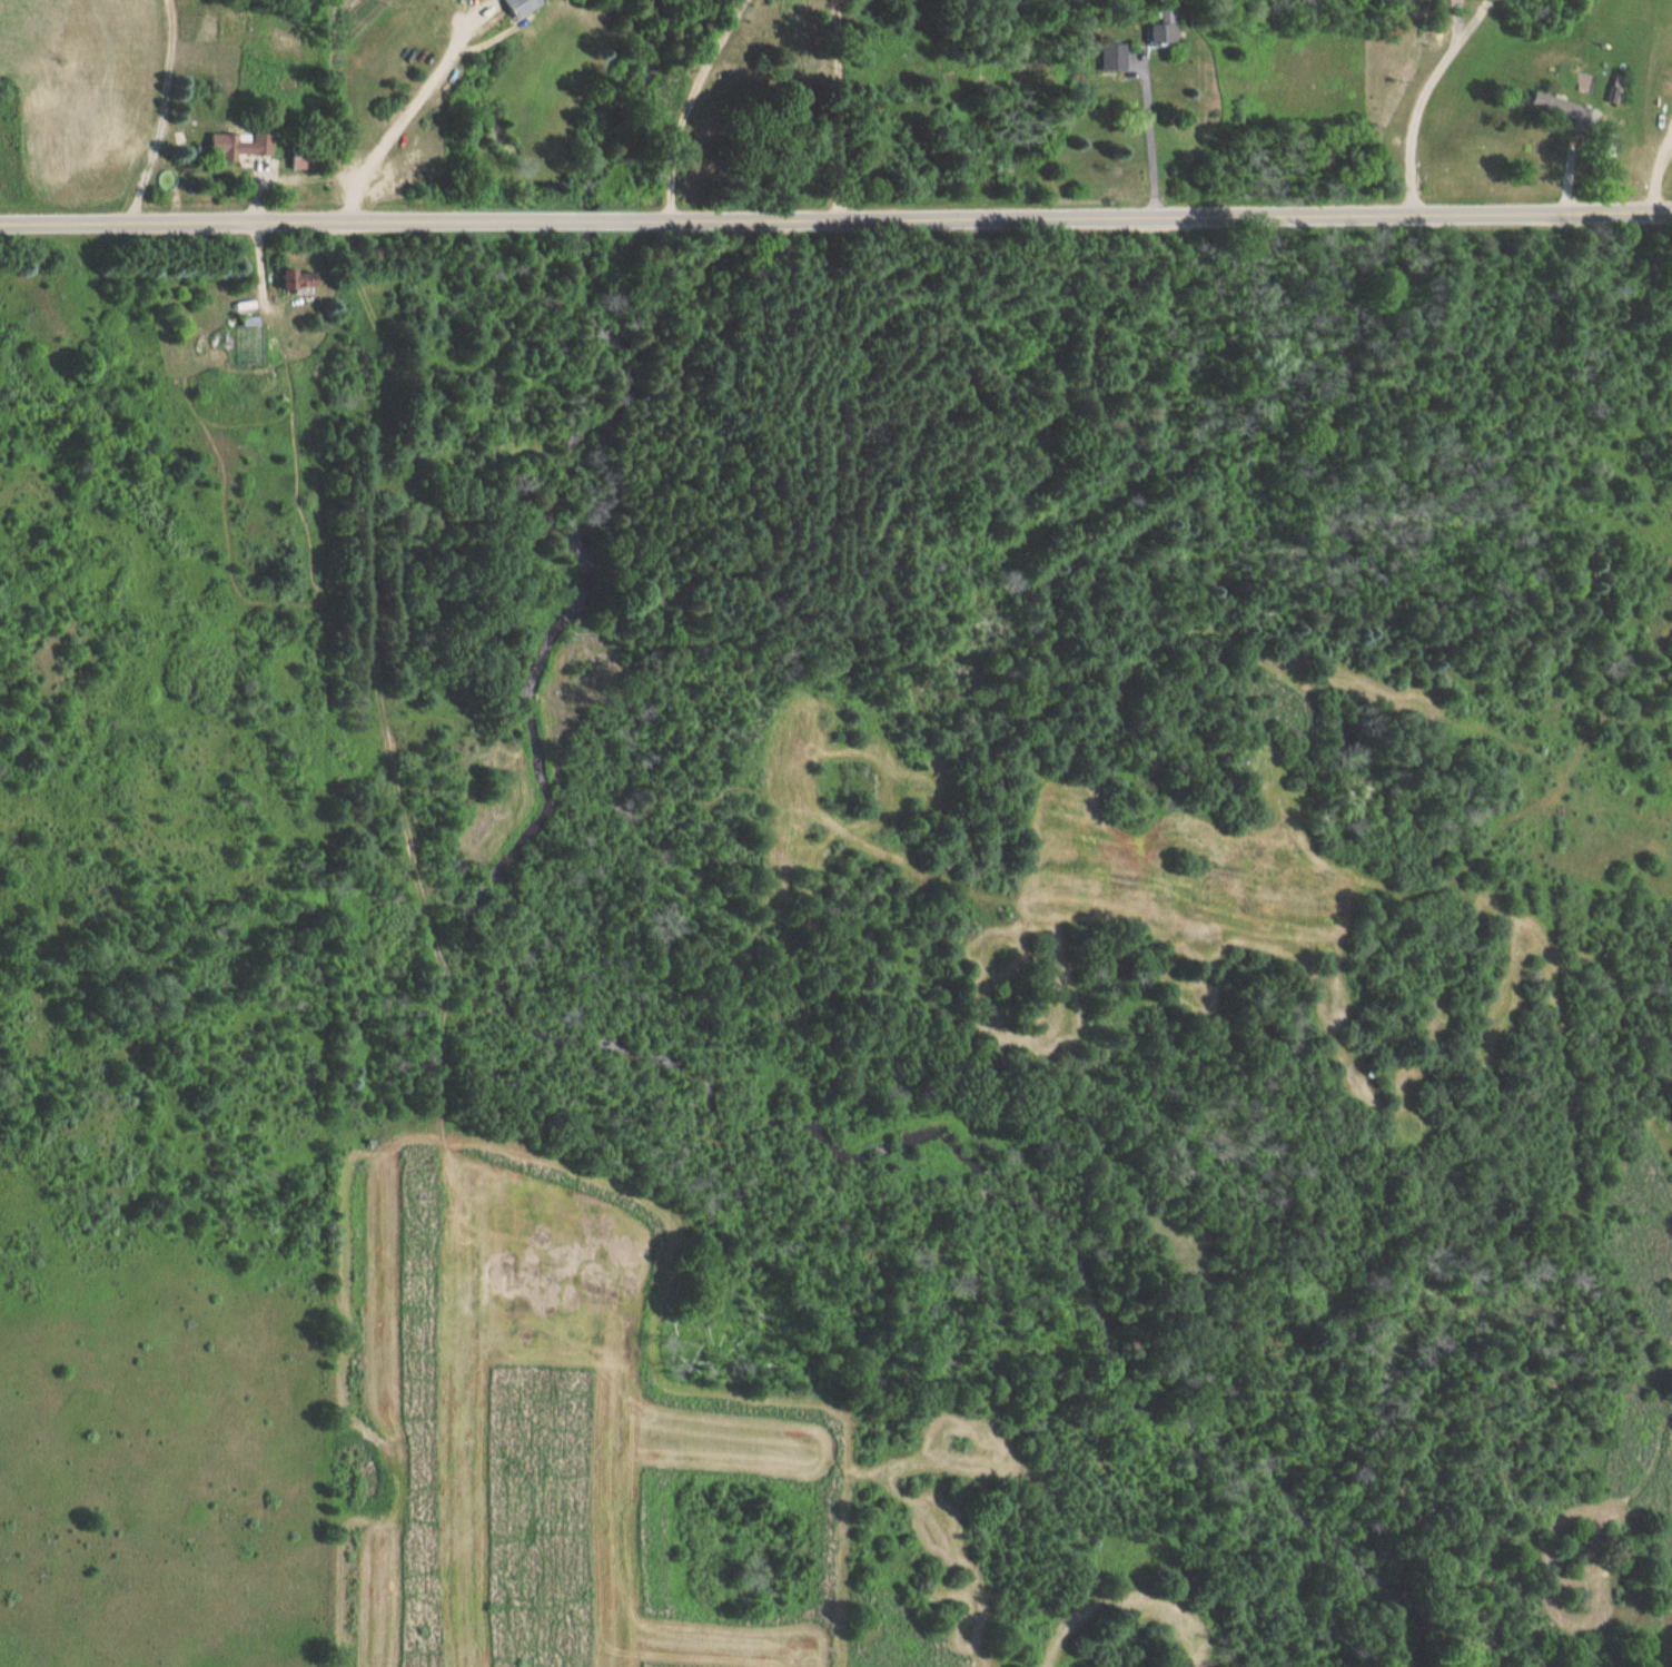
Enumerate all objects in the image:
building: (506, 7)
road: (1457, 18)
road: (1473, 18)
building: (1150, 37)
building: (1106, 59)
road: (686, 105)
road: (410, 107)
road: (838, 109)
building: (1553, 110)
road: (1414, 120)
building: (228, 148)
road: (835, 220)
building: (281, 283)

